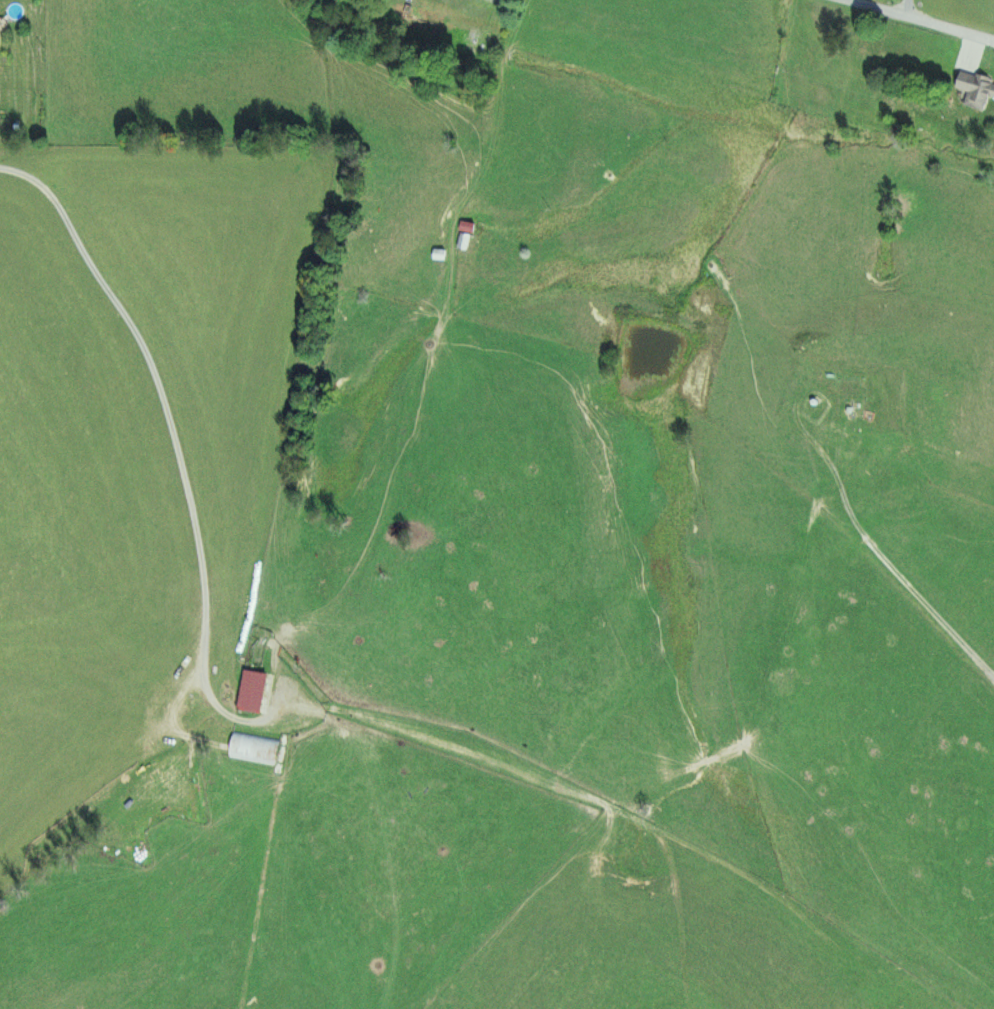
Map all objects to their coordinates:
road: (903, 7)
road: (922, 19)
road: (498, 55)
building: (976, 90)
road: (856, 627)
building: (252, 692)
building: (252, 748)
building: (61, 840)

